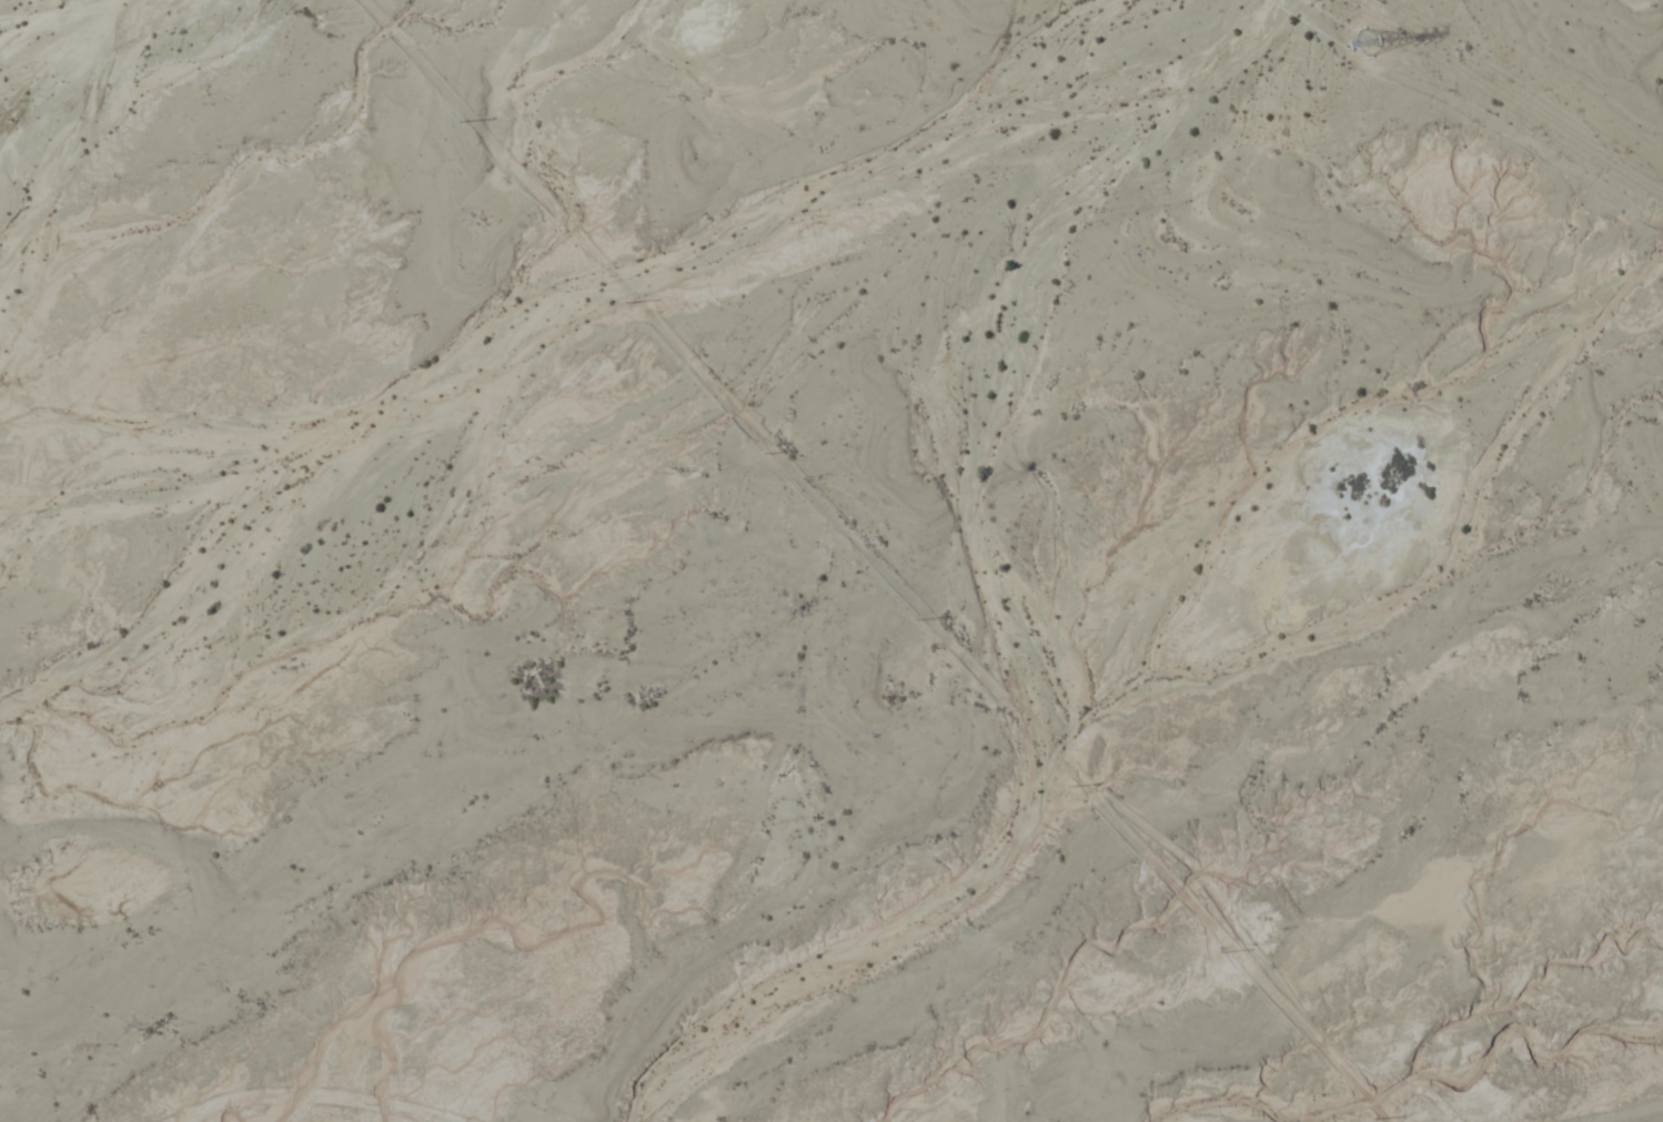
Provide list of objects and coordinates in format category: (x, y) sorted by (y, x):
power tower: (1378, 40)

